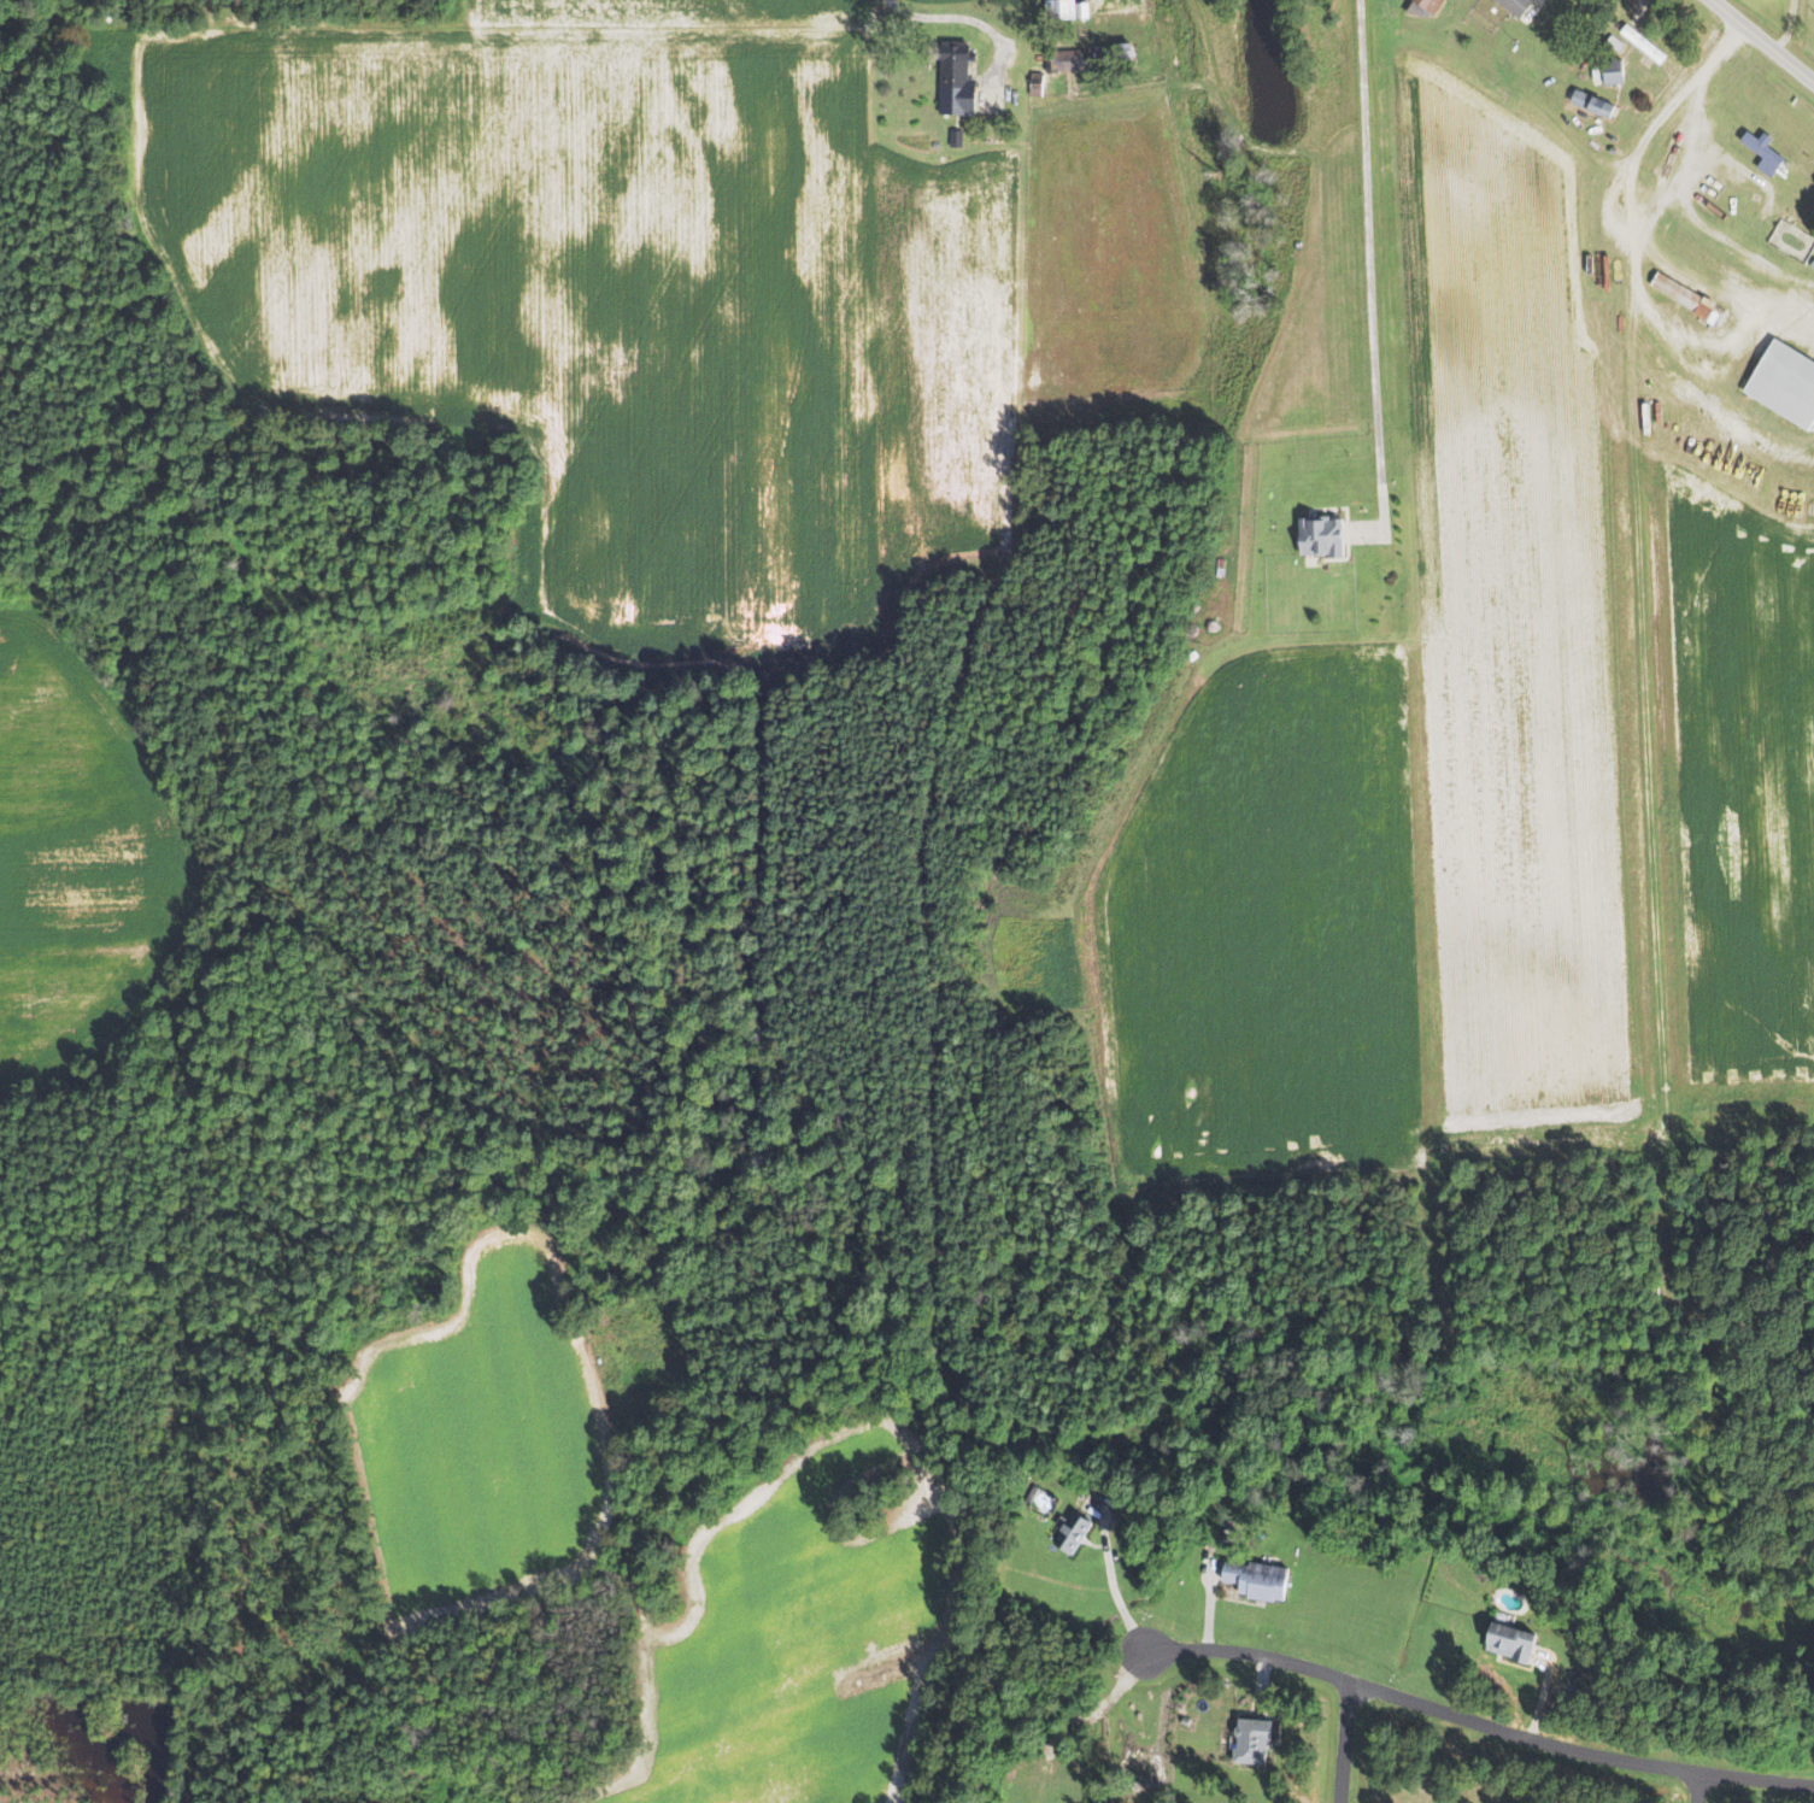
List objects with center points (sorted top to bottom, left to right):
crop: (934, 2)
building: (1428, 5)
building: (1514, 6)
road: (1640, 6)
building: (1063, 8)
crop: (1122, 10)
road: (1532, 10)
crop: (671, 11)
road: (968, 18)
road: (59, 25)
road: (674, 27)
road: (1786, 27)
building: (1613, 41)
building: (1642, 42)
road: (1761, 42)
building: (1110, 51)
building: (1061, 60)
building: (1612, 71)
building: (956, 80)
building: (1034, 84)
building: (1591, 102)
building: (955, 137)
building: (1761, 147)
road: (1622, 188)
road: (1021, 194)
road: (1763, 212)
road: (1636, 225)
building: (1812, 263)
road: (1369, 284)
road: (1721, 293)
building: (1685, 298)
crop: (615, 303)
road: (1734, 353)
road: (1690, 377)
building: (1784, 383)
building: (1321, 536)
crop: (1519, 621)
road: (1648, 788)
crop: (1733, 788)
crop: (82, 848)
road: (1420, 876)
crop: (1261, 929)
crop: (486, 1439)
building: (1031, 1496)
building: (1069, 1532)
road: (1110, 1578)
building: (1251, 1579)
road: (628, 1586)
road: (1209, 1607)
crop: (800, 1632)
building: (1508, 1642)
road: (1262, 1685)
road: (1538, 1697)
road: (1078, 1719)
road: (1478, 1722)
building: (1250, 1739)
road: (1344, 1742)
road: (1698, 1787)

